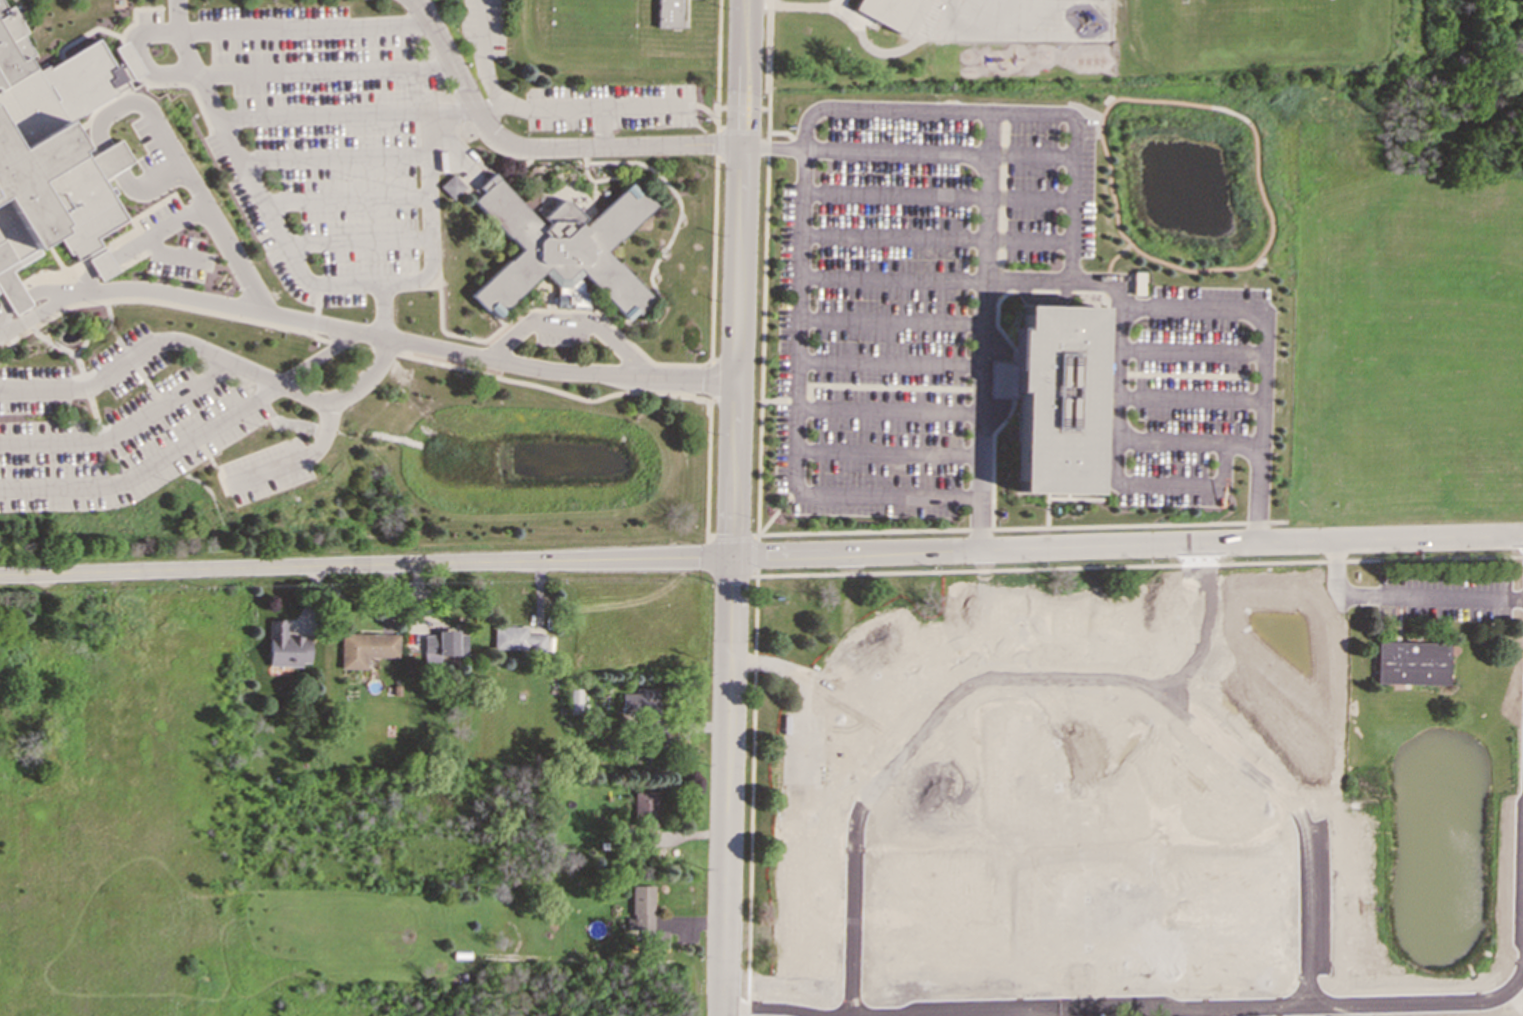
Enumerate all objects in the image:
building: (885, 11)
building: (668, 13)
road: (718, 53)
road: (488, 102)
road: (470, 104)
road: (542, 106)
road: (742, 107)
road: (763, 108)
road: (705, 110)
road: (717, 114)
road: (603, 125)
road: (1002, 128)
road: (738, 131)
road: (786, 133)
road: (1253, 138)
road: (152, 142)
road: (719, 143)
road: (540, 145)
road: (772, 145)
road: (894, 151)
road: (1002, 155)
building: (41, 162)
road: (1001, 176)
road: (800, 179)
building: (451, 186)
road: (893, 192)
road: (1001, 197)
road: (1000, 219)
road: (892, 236)
road: (999, 240)
building: (563, 247)
road: (999, 257)
road: (763, 266)
road: (711, 280)
road: (999, 283)
road: (312, 284)
road: (1072, 292)
road: (316, 295)
building: (570, 298)
road: (150, 302)
road: (188, 305)
road: (1137, 305)
road: (314, 310)
road: (549, 310)
road: (383, 311)
road: (5, 319)
road: (26, 319)
road: (110, 320)
road: (312, 322)
road: (569, 325)
road: (984, 330)
road: (316, 338)
road: (337, 342)
road: (80, 346)
road: (358, 346)
road: (64, 348)
road: (383, 351)
road: (129, 357)
road: (207, 357)
road: (955, 362)
road: (1180, 375)
road: (558, 381)
road: (863, 385)
road: (85, 387)
road: (152, 392)
road: (618, 392)
building: (1056, 398)
road: (888, 414)
road: (94, 417)
road: (120, 429)
road: (887, 453)
road: (297, 461)
road: (145, 467)
road: (1118, 474)
road: (733, 507)
road: (776, 510)
road: (1019, 527)
road: (732, 537)
road: (753, 554)
road: (761, 557)
road: (1139, 566)
road: (984, 598)
road: (1429, 598)
building: (516, 639)
building: (442, 644)
building: (284, 646)
road: (1089, 647)
building: (365, 648)
building: (1412, 663)
road: (790, 667)
road: (845, 672)
building: (575, 700)
building: (639, 702)
road: (1063, 769)
road: (751, 776)
road: (801, 794)
road: (842, 805)
building: (646, 808)
road: (1327, 822)
road: (1124, 843)
building: (640, 907)
road: (785, 923)
building: (657, 939)
road: (873, 954)
road: (973, 989)
road: (764, 1013)

